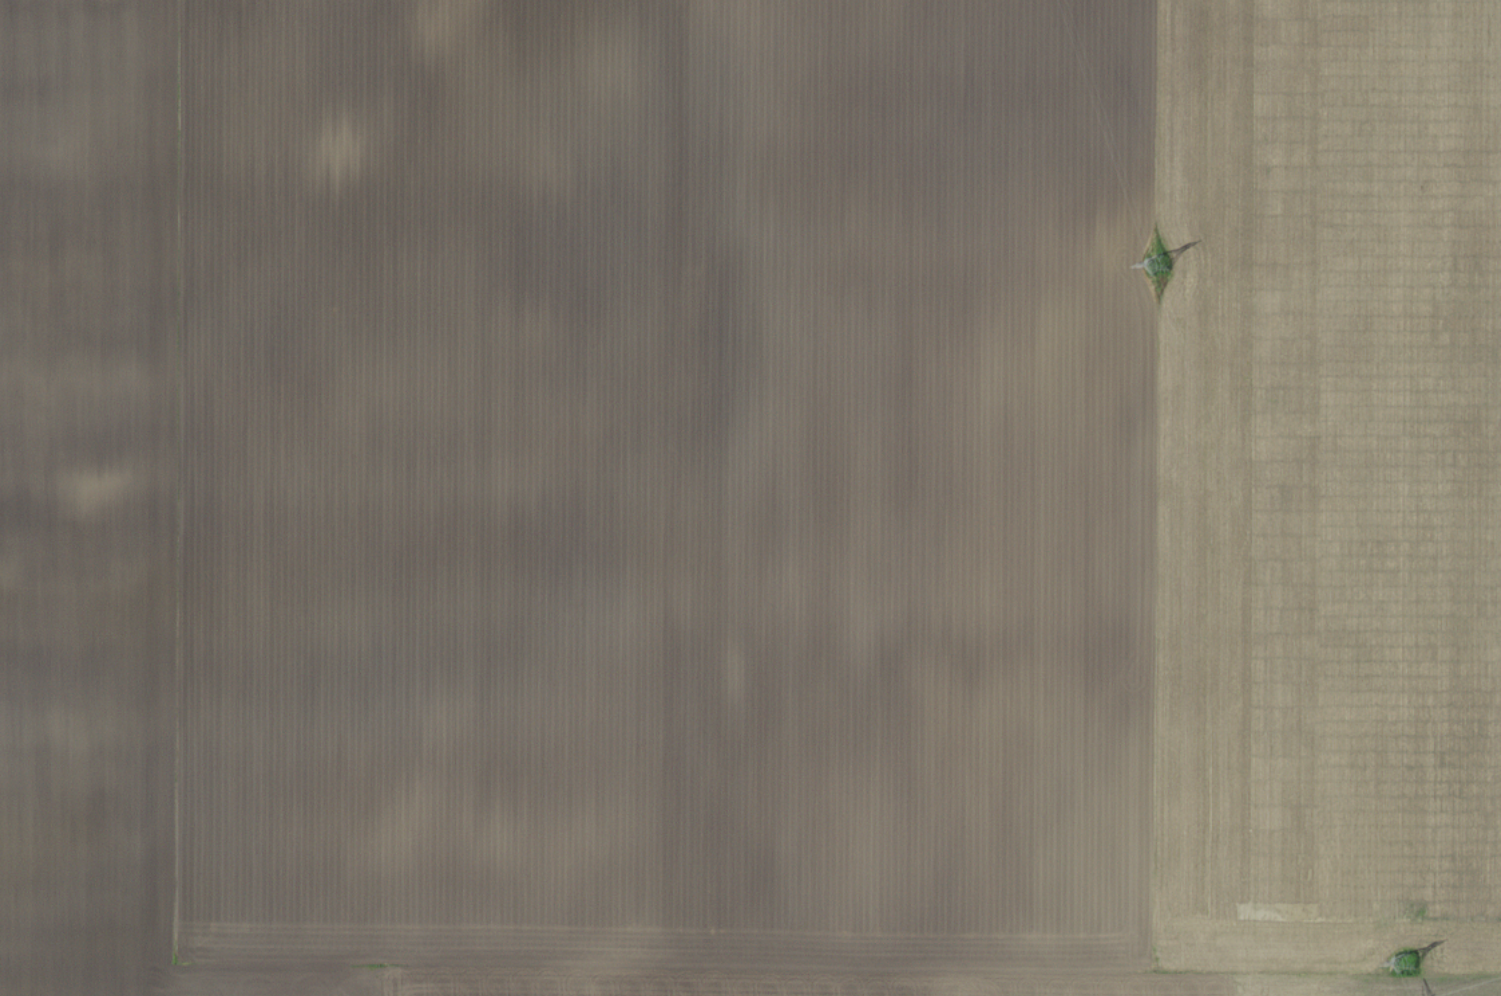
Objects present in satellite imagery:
power tower: (1163, 261)
power tower: (1410, 966)

